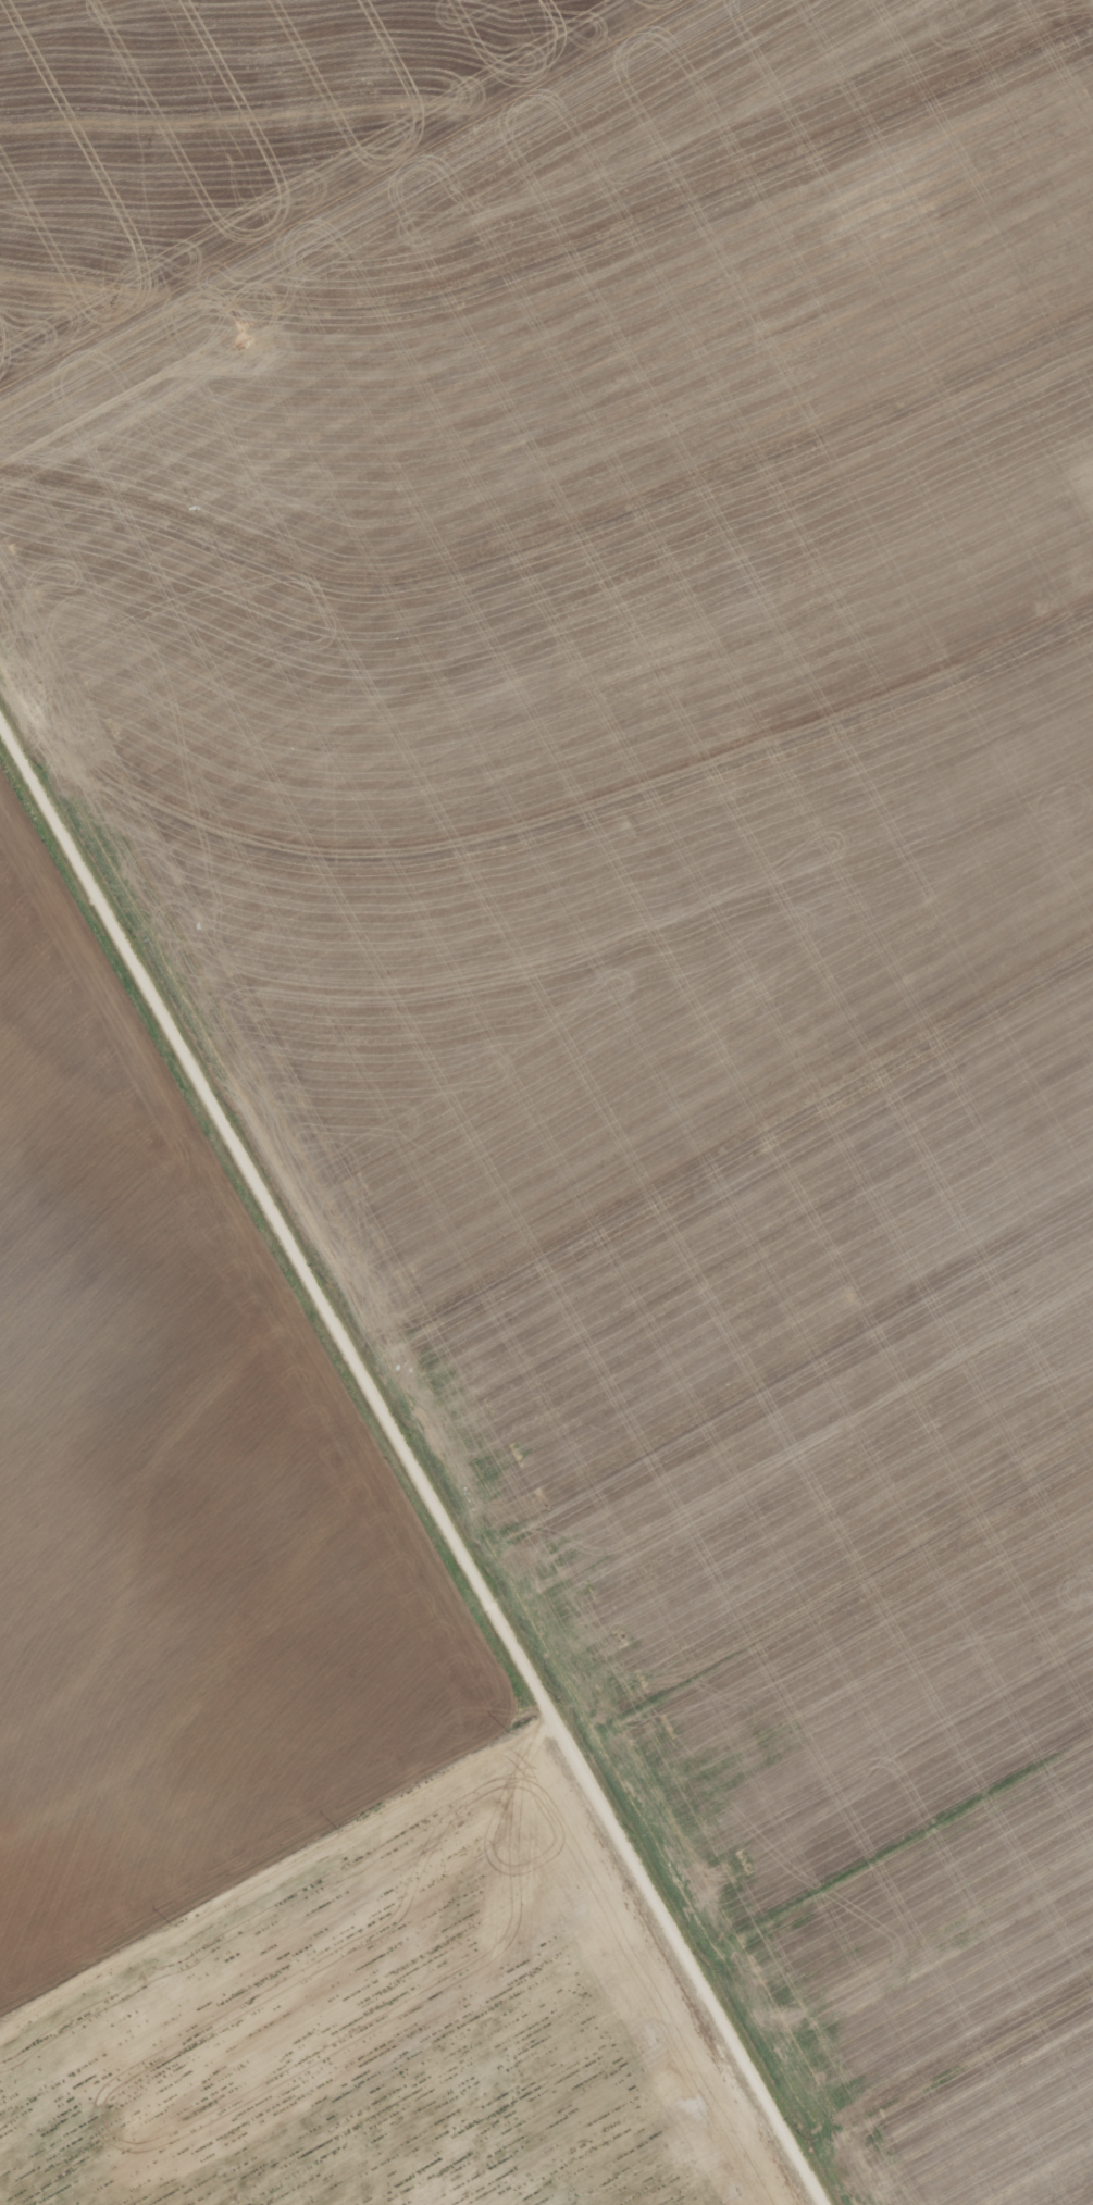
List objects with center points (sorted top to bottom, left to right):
road: (755, 2086)

